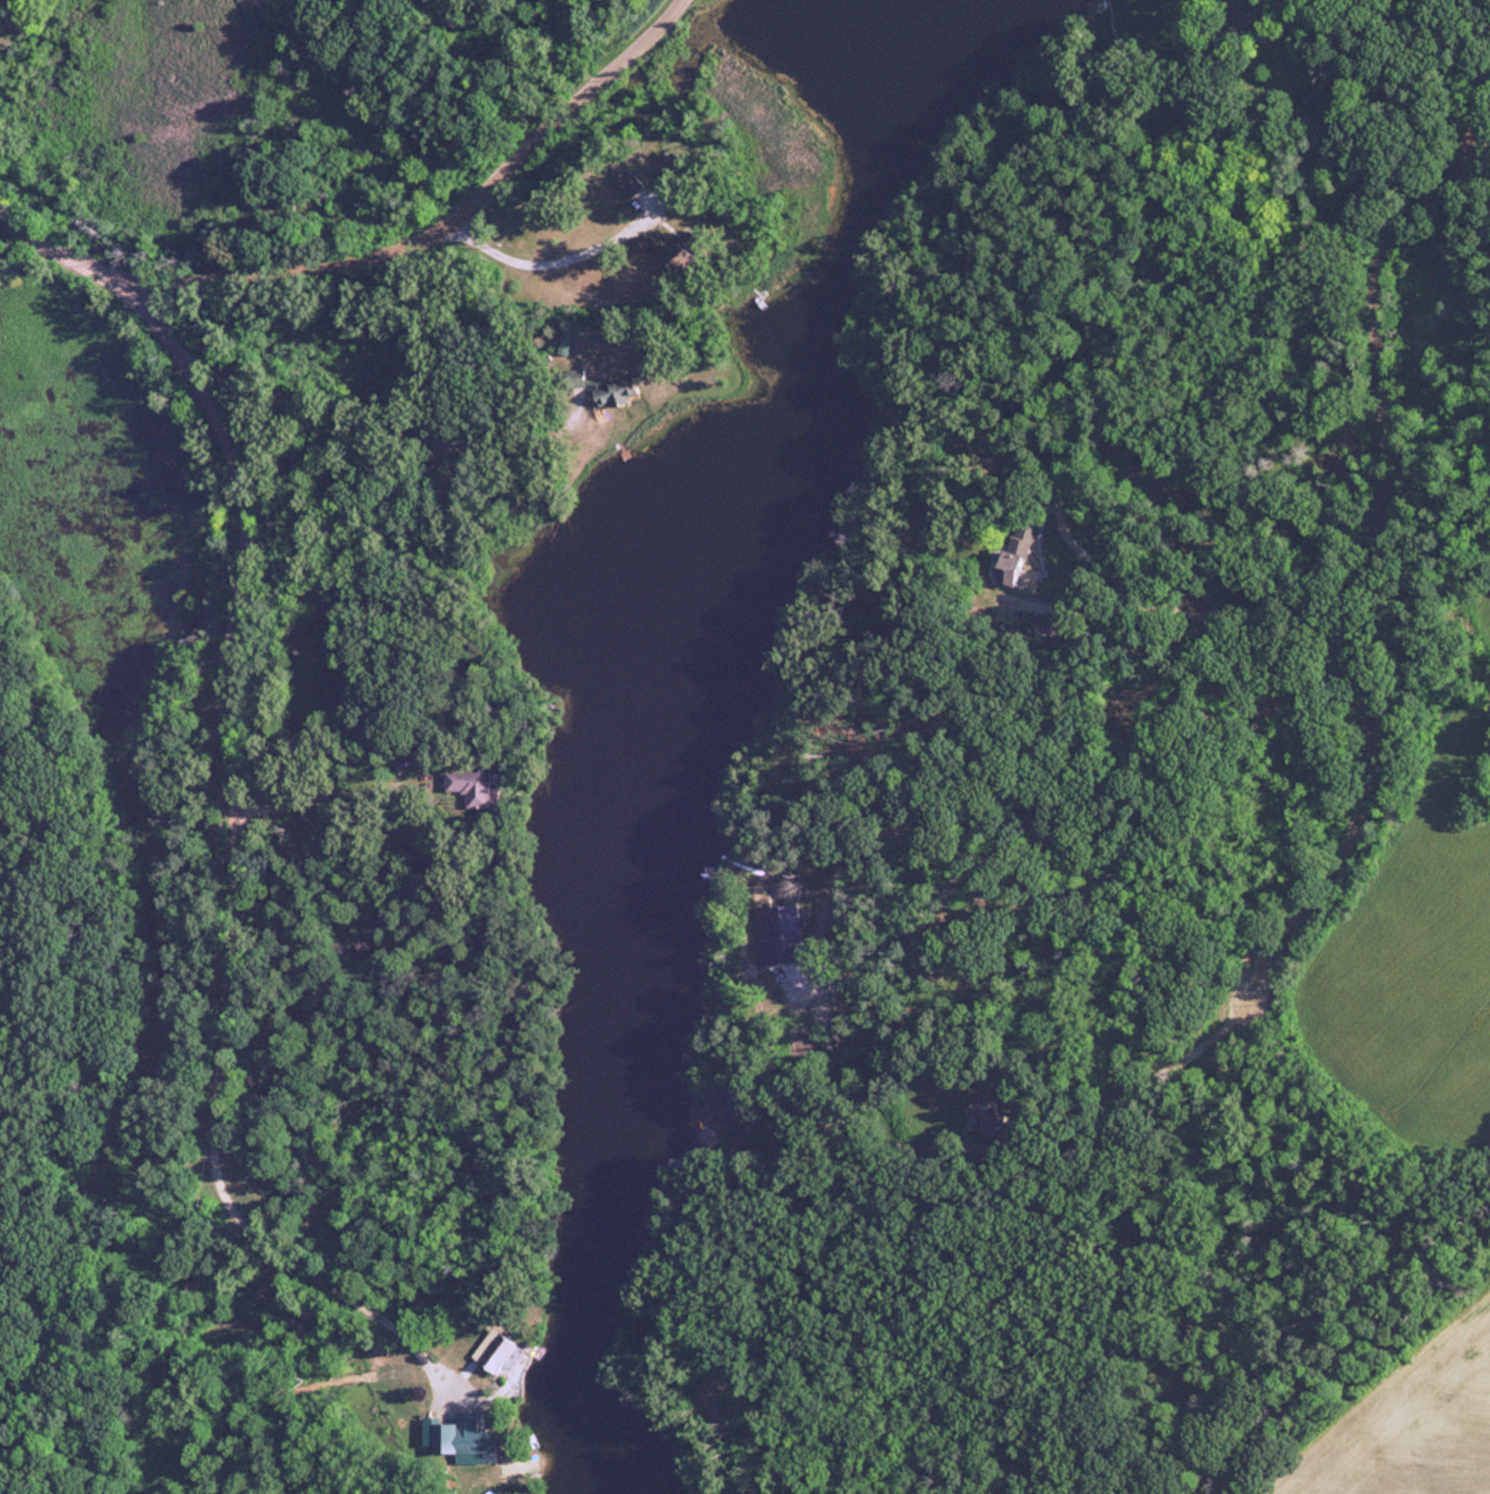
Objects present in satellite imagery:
building: (1257, 14)
building: (674, 165)
building: (628, 182)
road: (376, 246)
building: (683, 260)
building: (603, 387)
road: (1371, 542)
building: (1016, 552)
building: (1041, 624)
building: (471, 786)
road: (246, 870)
road: (1017, 1025)
building: (992, 1110)
building: (495, 1352)
building: (458, 1439)

